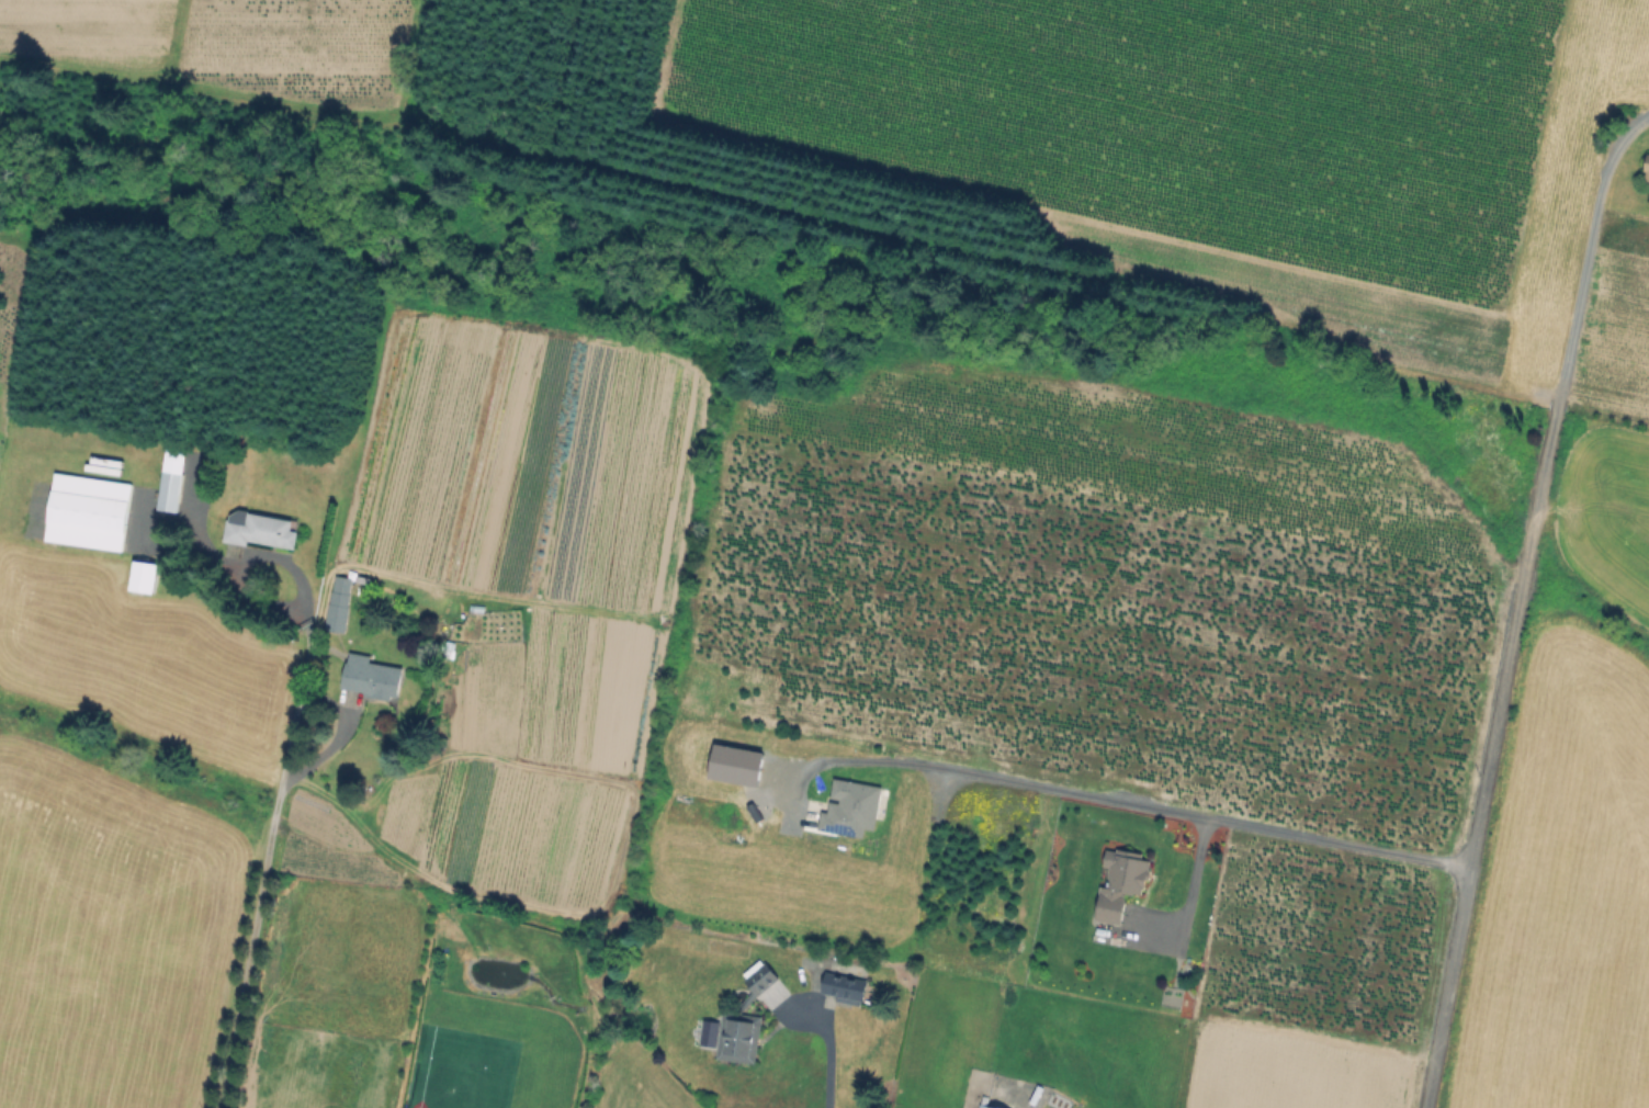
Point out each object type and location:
building: (1648, 171)
road: (1583, 273)
building: (168, 479)
building: (86, 515)
building: (263, 531)
road: (245, 566)
building: (142, 579)
building: (340, 603)
building: (372, 677)
road: (1486, 773)
road: (1119, 800)
road: (269, 858)
road: (1188, 904)
building: (846, 988)
building: (745, 1020)
road: (832, 1058)
building: (976, 1107)
building: (984, 1107)

